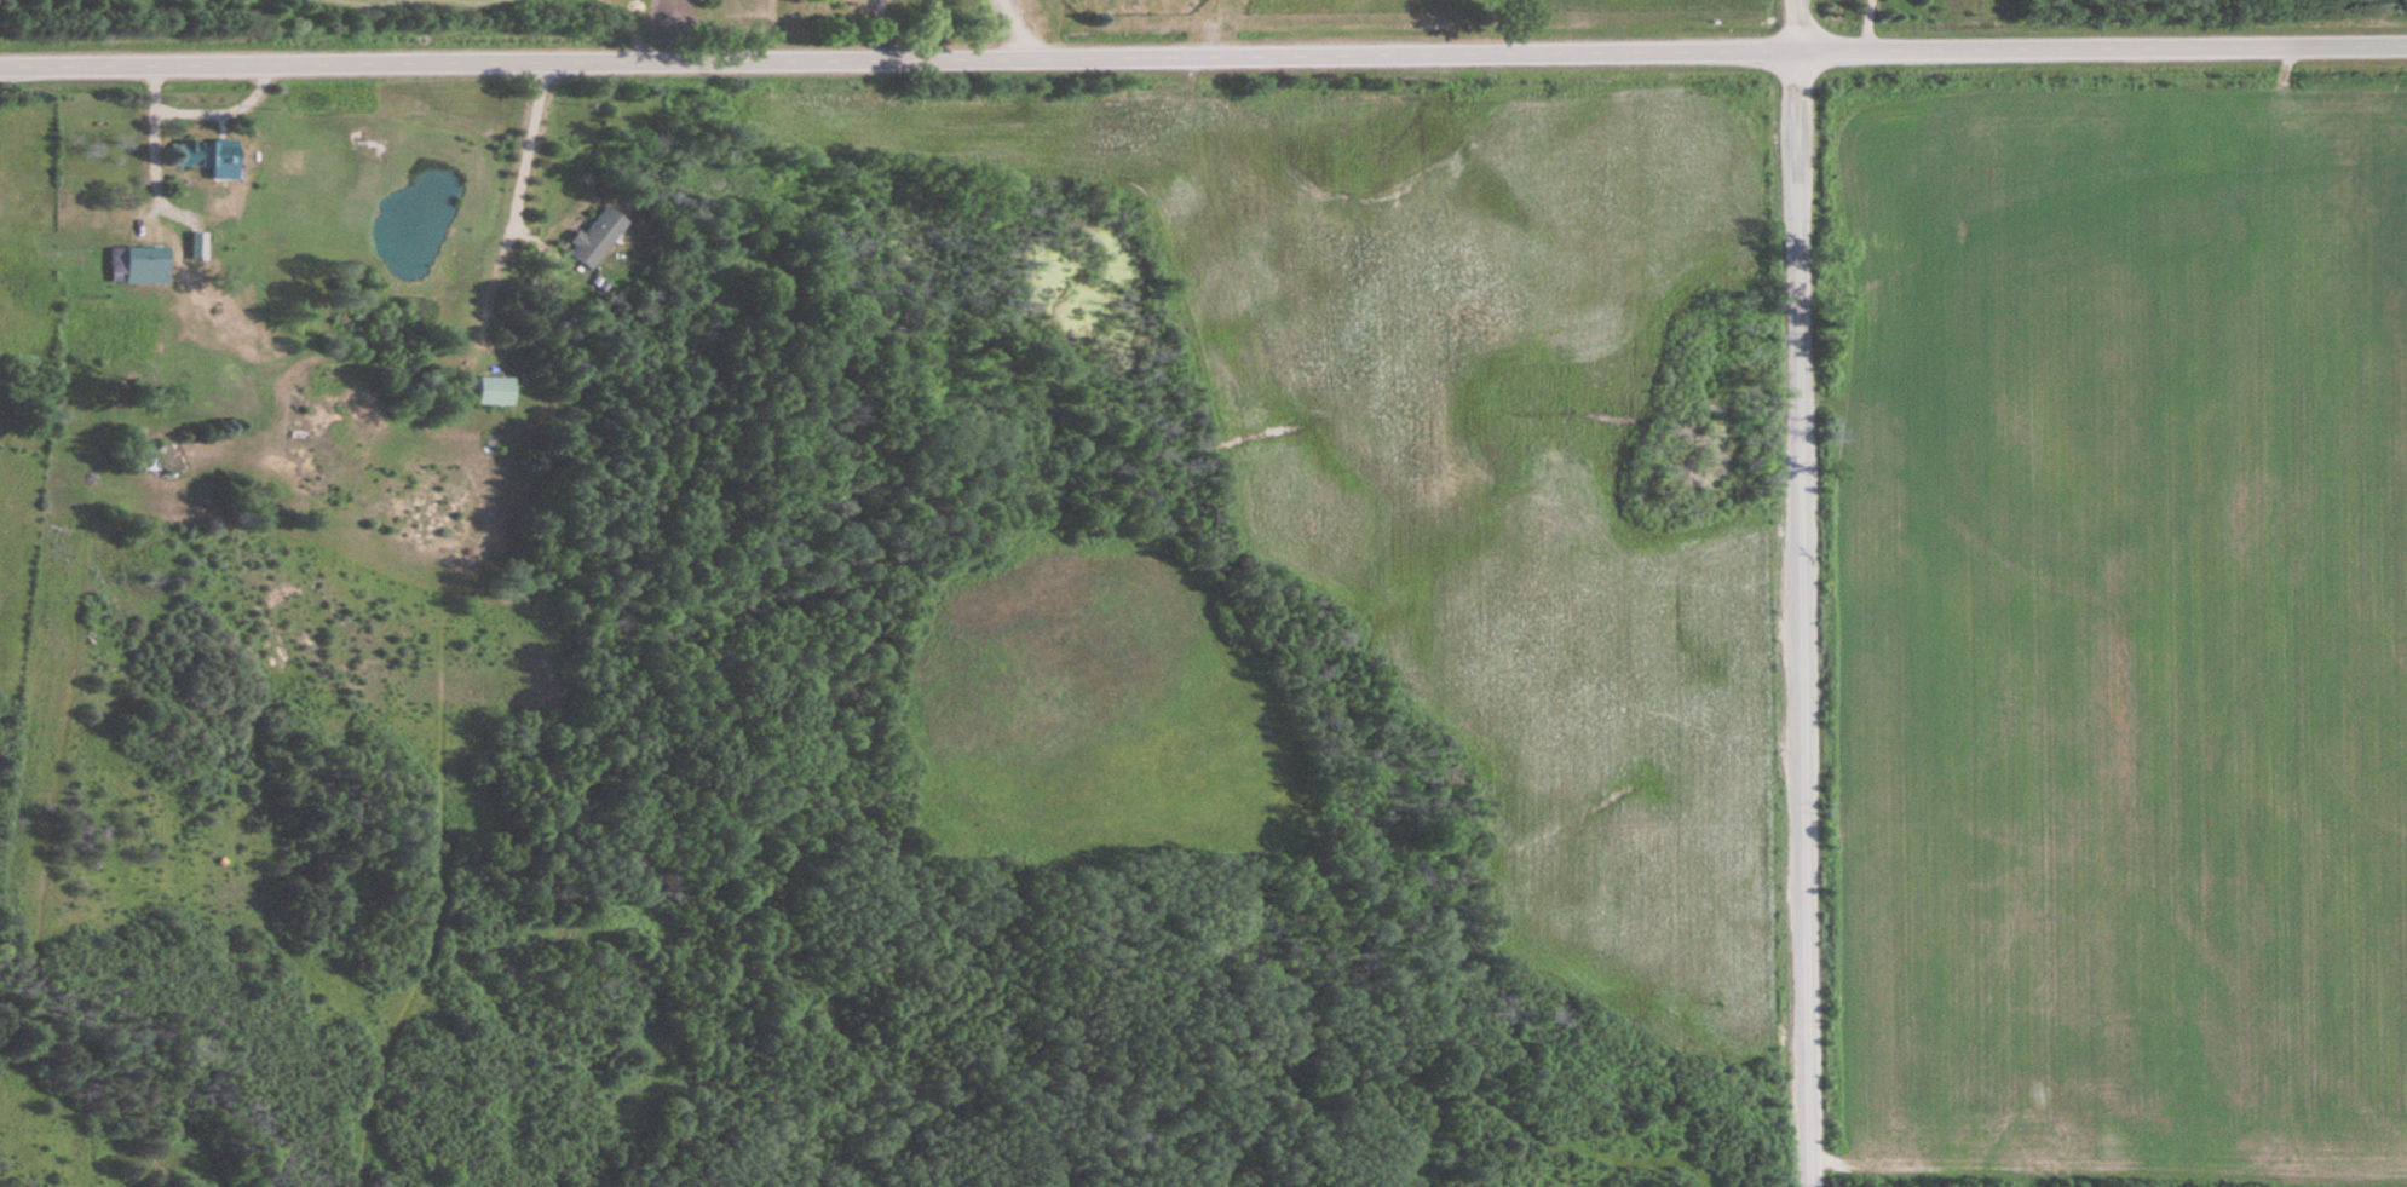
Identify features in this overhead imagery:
road: (1015, 28)
road: (874, 30)
road: (1203, 58)
building: (213, 155)
road: (520, 168)
building: (598, 236)
building: (140, 264)
building: (497, 388)
road: (1802, 593)

